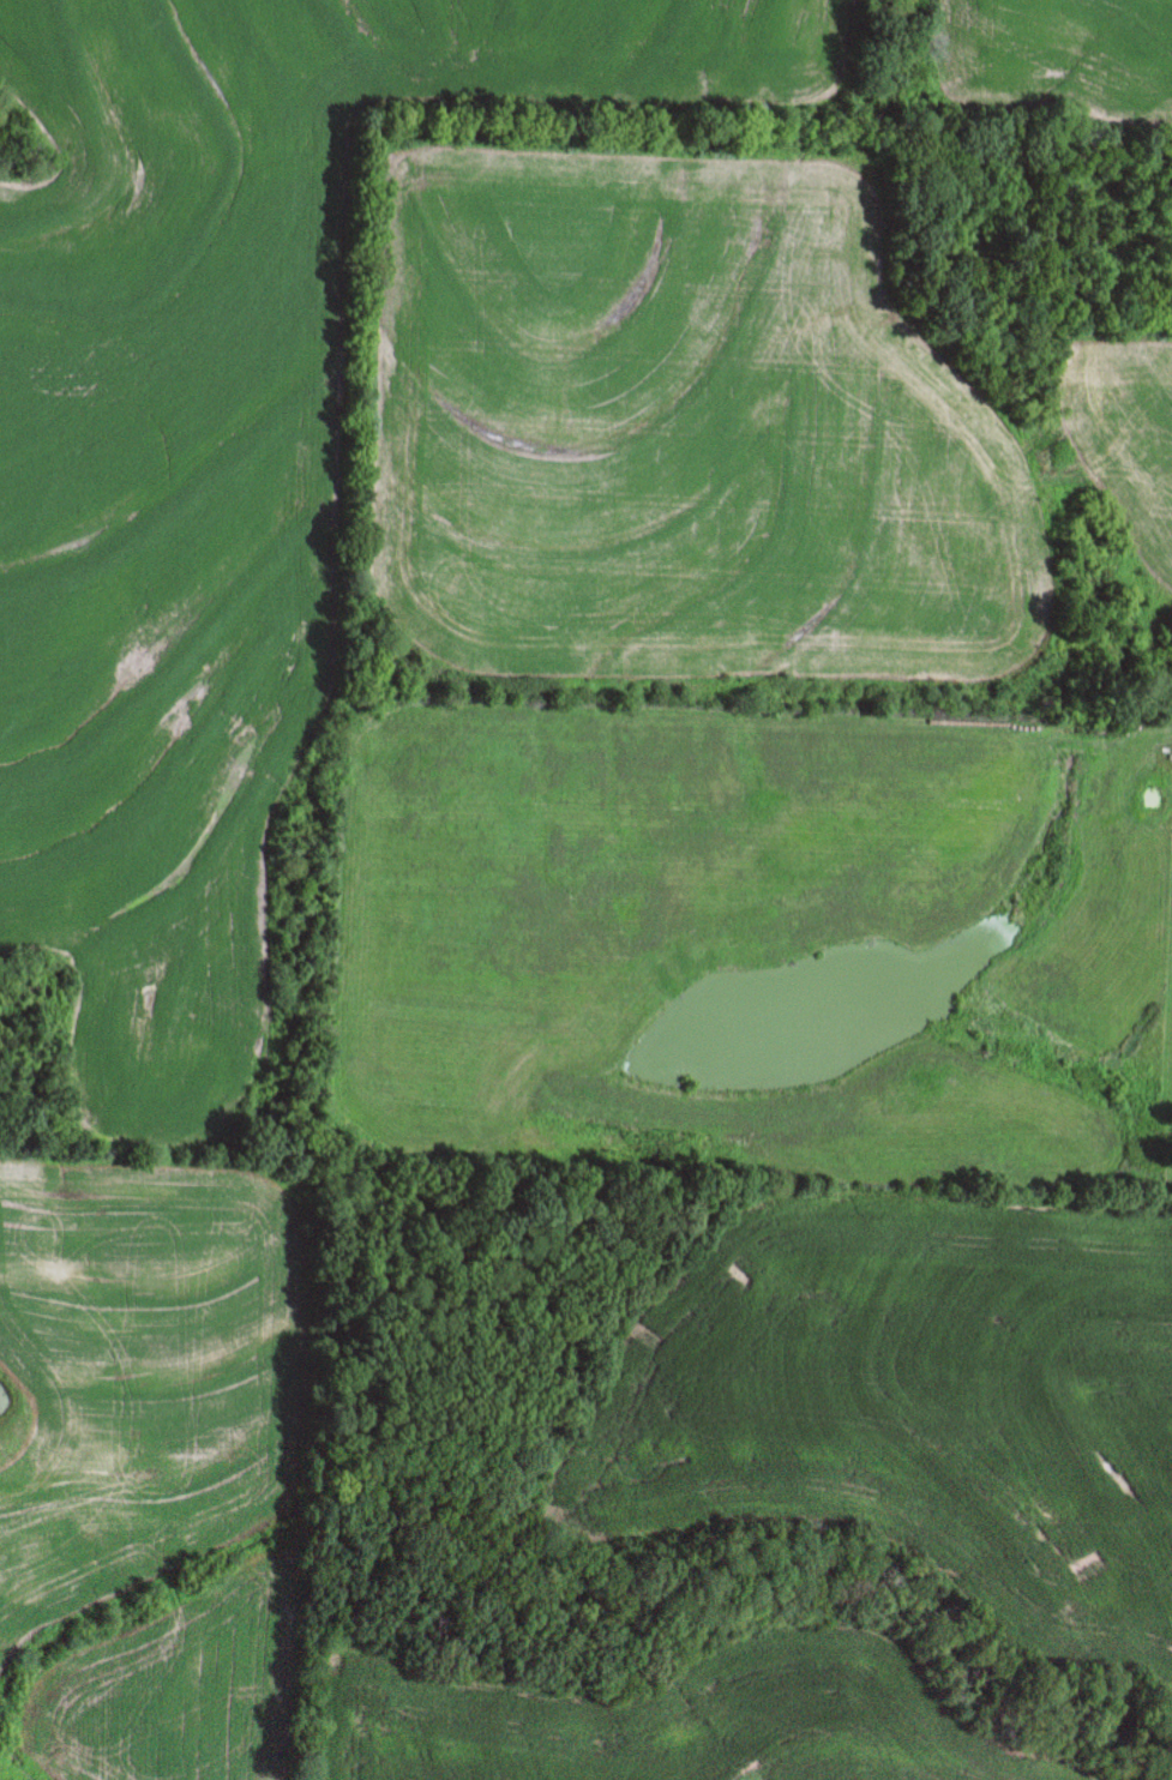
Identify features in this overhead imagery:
crop: (1052, 55)
crop: (220, 468)

